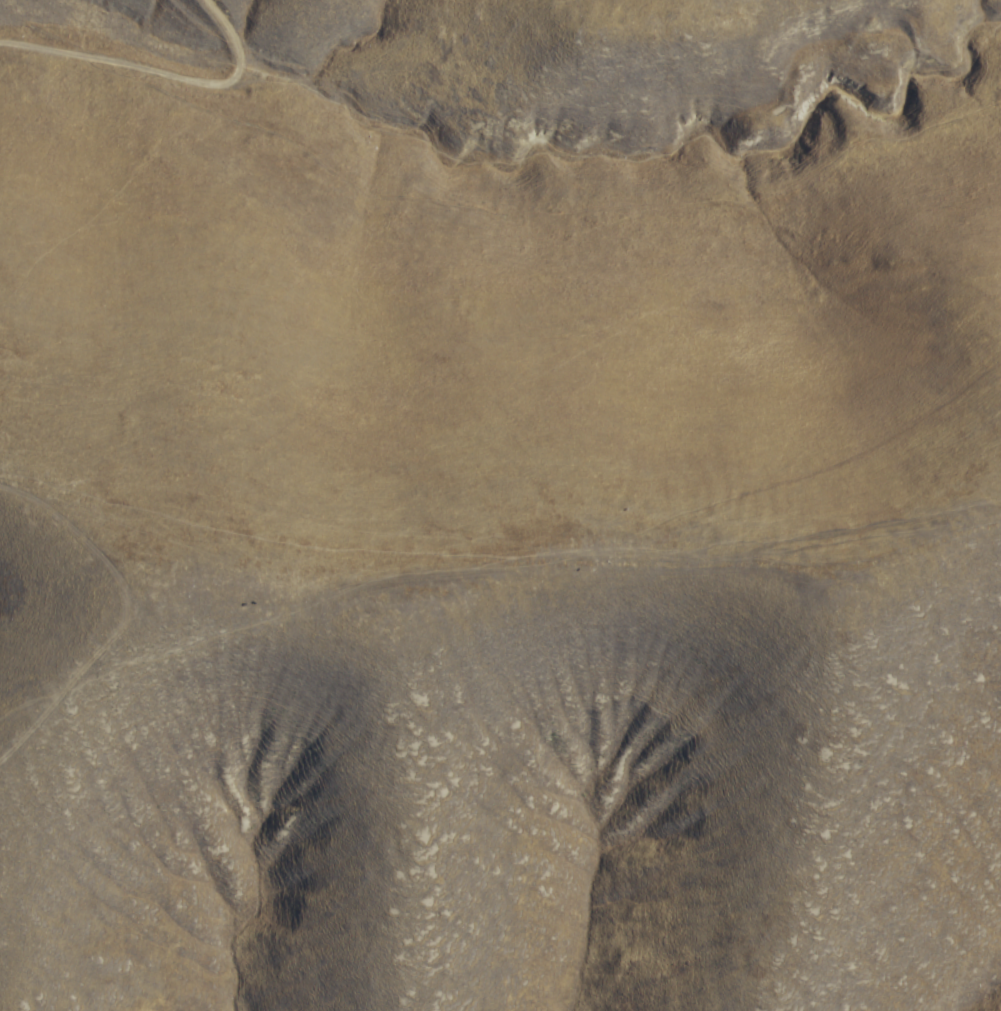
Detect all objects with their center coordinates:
road: (247, 131)

